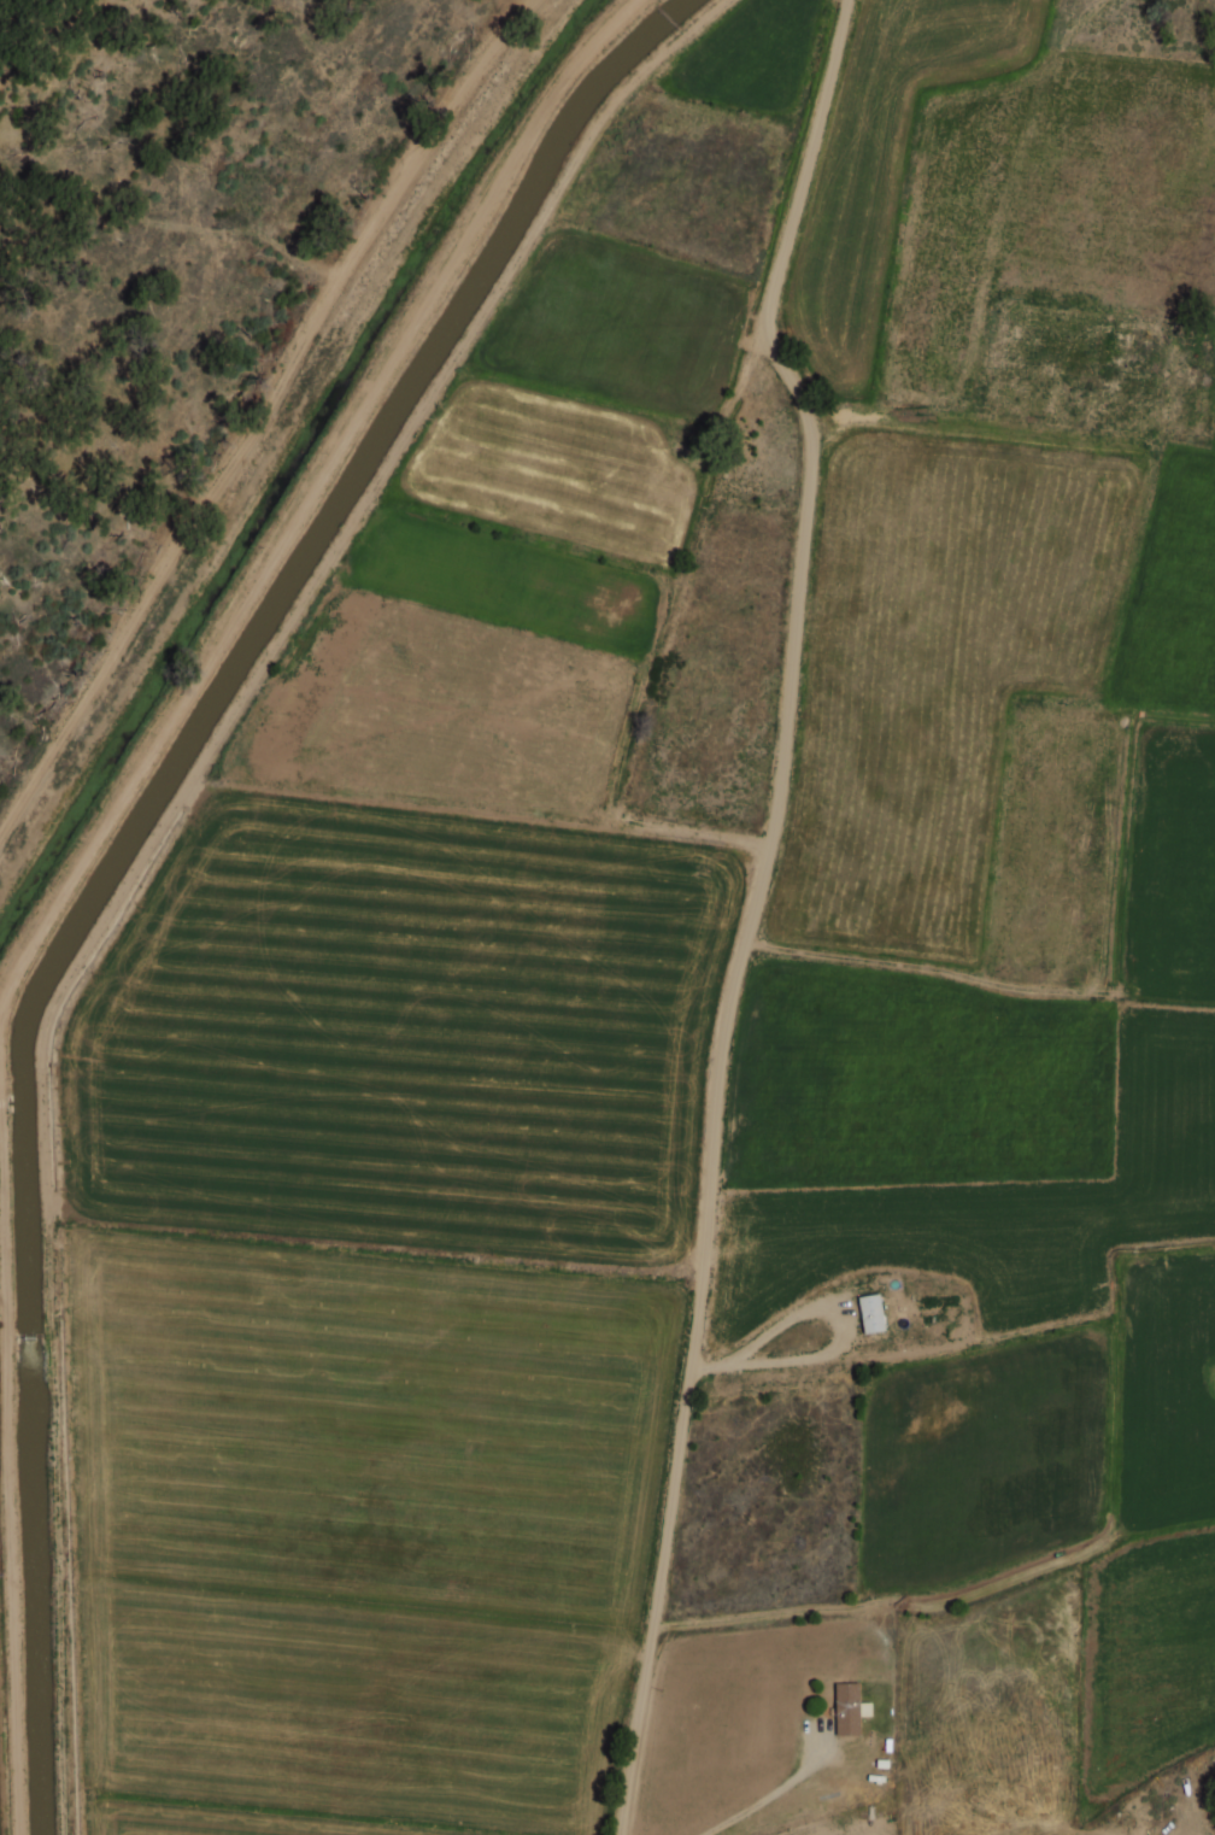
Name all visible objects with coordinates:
road: (756, 910)
building: (876, 1314)
building: (855, 1708)

